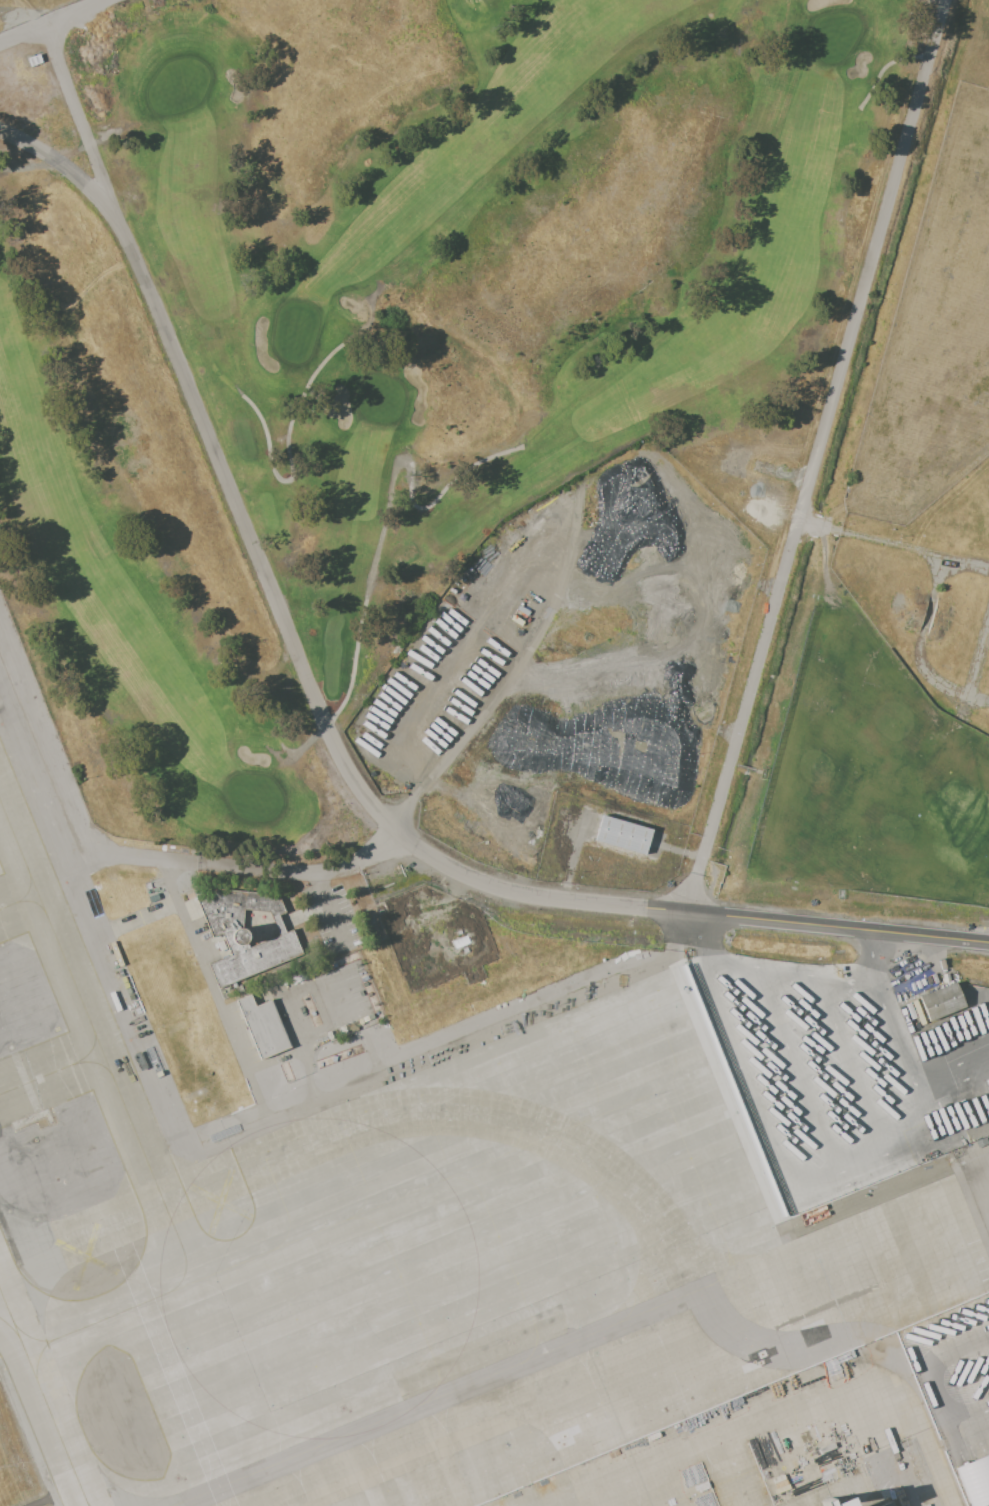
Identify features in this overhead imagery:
road: (54, 22)
road: (87, 137)
park: (375, 335)
road: (817, 456)
road: (894, 543)
road: (278, 605)
road: (483, 704)
park: (870, 784)
building: (622, 835)
road: (839, 928)
building: (246, 932)
road: (874, 955)
road: (791, 974)
building: (940, 1001)
building: (262, 1027)
road: (899, 1032)
parking lot: (848, 1063)
road: (847, 1064)
road: (791, 1071)
road: (955, 1072)
road: (773, 1148)
airport: (411, 1204)
airport apron: (438, 1247)
road: (930, 1386)
parking lot: (955, 1388)
airport taxiway: (44, 1396)
building: (974, 1484)
airport hangar: (817, 1501)
building: (817, 1501)
airport hangar: (883, 1504)
building: (883, 1504)

